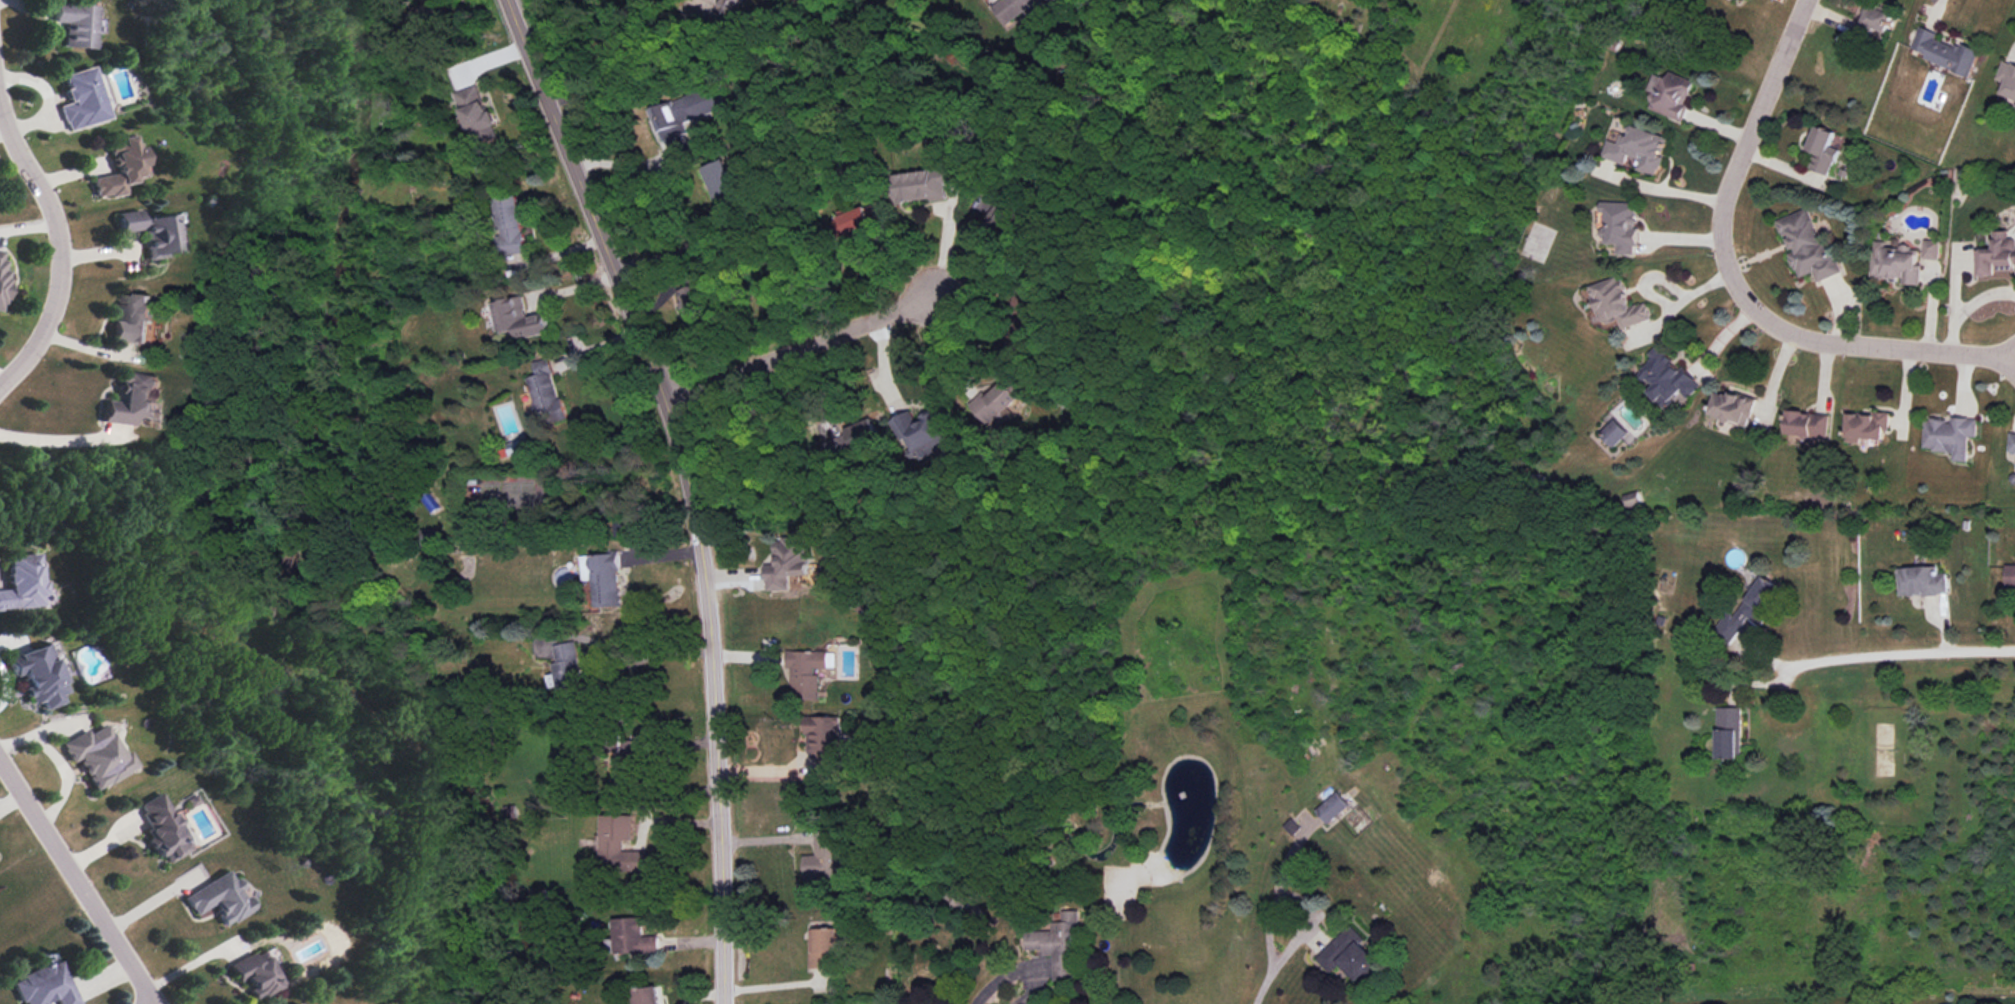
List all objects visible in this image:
building: (1061, 0)
road: (1936, 5)
building: (728, 6)
building: (1024, 10)
building: (1875, 21)
building: (76, 25)
building: (1944, 51)
building: (2007, 79)
building: (1671, 96)
building: (82, 100)
building: (477, 116)
building: (685, 117)
building: (1825, 149)
building: (1638, 150)
road: (627, 166)
building: (120, 168)
building: (922, 184)
building: (719, 187)
road: (1659, 190)
road: (584, 192)
building: (1006, 218)
building: (855, 222)
building: (1617, 226)
building: (509, 227)
building: (151, 233)
road: (945, 243)
building: (1810, 244)
road: (57, 249)
road: (681, 249)
building: (1931, 249)
building: (0, 254)
building: (1998, 256)
building: (1898, 263)
building: (2, 283)
road: (1736, 283)
building: (692, 297)
building: (1619, 304)
building: (1022, 310)
building: (518, 318)
building: (137, 321)
road: (796, 349)
building: (1667, 378)
building: (544, 393)
building: (997, 399)
building: (135, 401)
building: (1734, 408)
building: (1809, 424)
building: (1870, 427)
building: (1612, 433)
building: (921, 434)
building: (1952, 436)
road: (57, 441)
building: (854, 442)
building: (2013, 444)
building: (787, 564)
building: (605, 578)
building: (2011, 579)
building: (1924, 583)
building: (22, 584)
building: (1751, 614)
road: (1896, 651)
building: (805, 672)
building: (567, 674)
building: (39, 677)
road: (713, 692)
building: (1731, 734)
building: (823, 742)
building: (610, 743)
building: (98, 758)
road: (57, 762)
building: (628, 766)
building: (1334, 809)
building: (162, 829)
building: (620, 843)
building: (826, 857)
road: (78, 880)
road: (1279, 889)
building: (963, 896)
building: (220, 899)
road: (1302, 903)
building: (631, 937)
building: (1060, 946)
building: (822, 948)
road: (1285, 956)
building: (1352, 957)
building: (258, 977)
building: (46, 986)
building: (647, 996)
road: (996, 1001)
road: (153, 1002)

